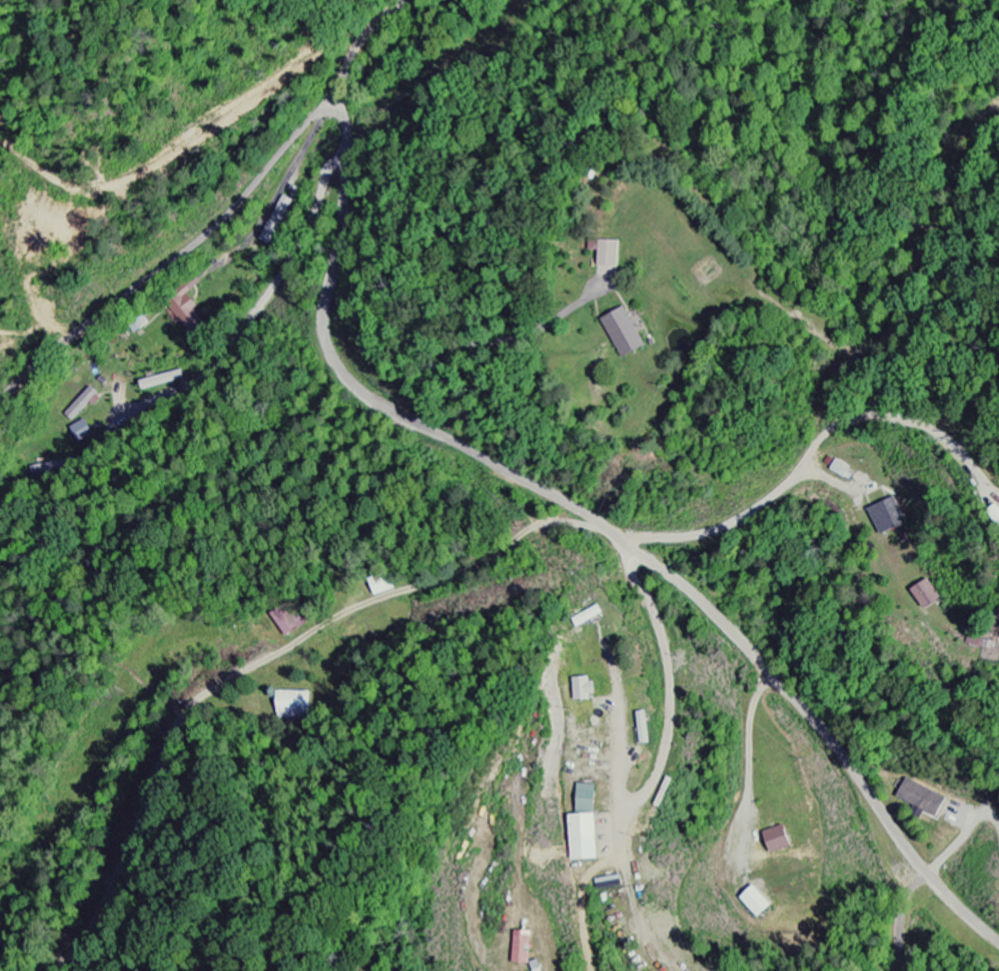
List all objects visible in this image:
road: (344, 106)
road: (224, 220)
building: (609, 252)
building: (190, 316)
building: (627, 333)
building: (85, 402)
building: (844, 469)
building: (889, 517)
road: (609, 531)
building: (927, 594)
building: (590, 616)
building: (292, 620)
building: (588, 689)
building: (296, 704)
building: (647, 728)
building: (589, 798)
building: (925, 798)
road: (962, 835)
building: (587, 837)
building: (782, 840)
building: (761, 903)
building: (526, 948)
building: (541, 966)

